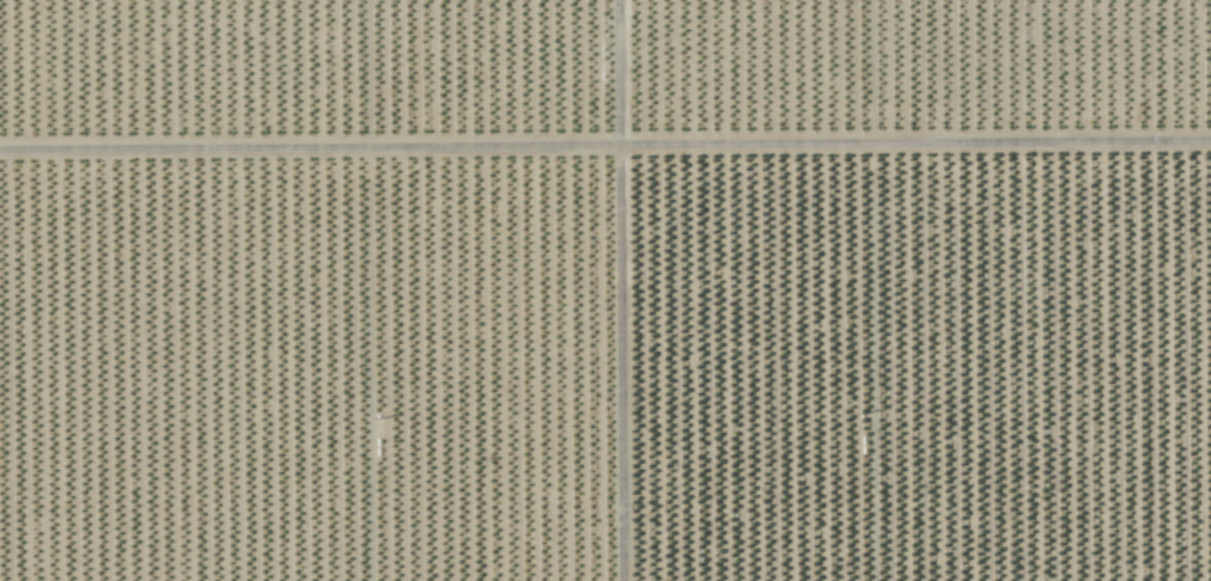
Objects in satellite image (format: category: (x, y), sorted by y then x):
road: (621, 290)

